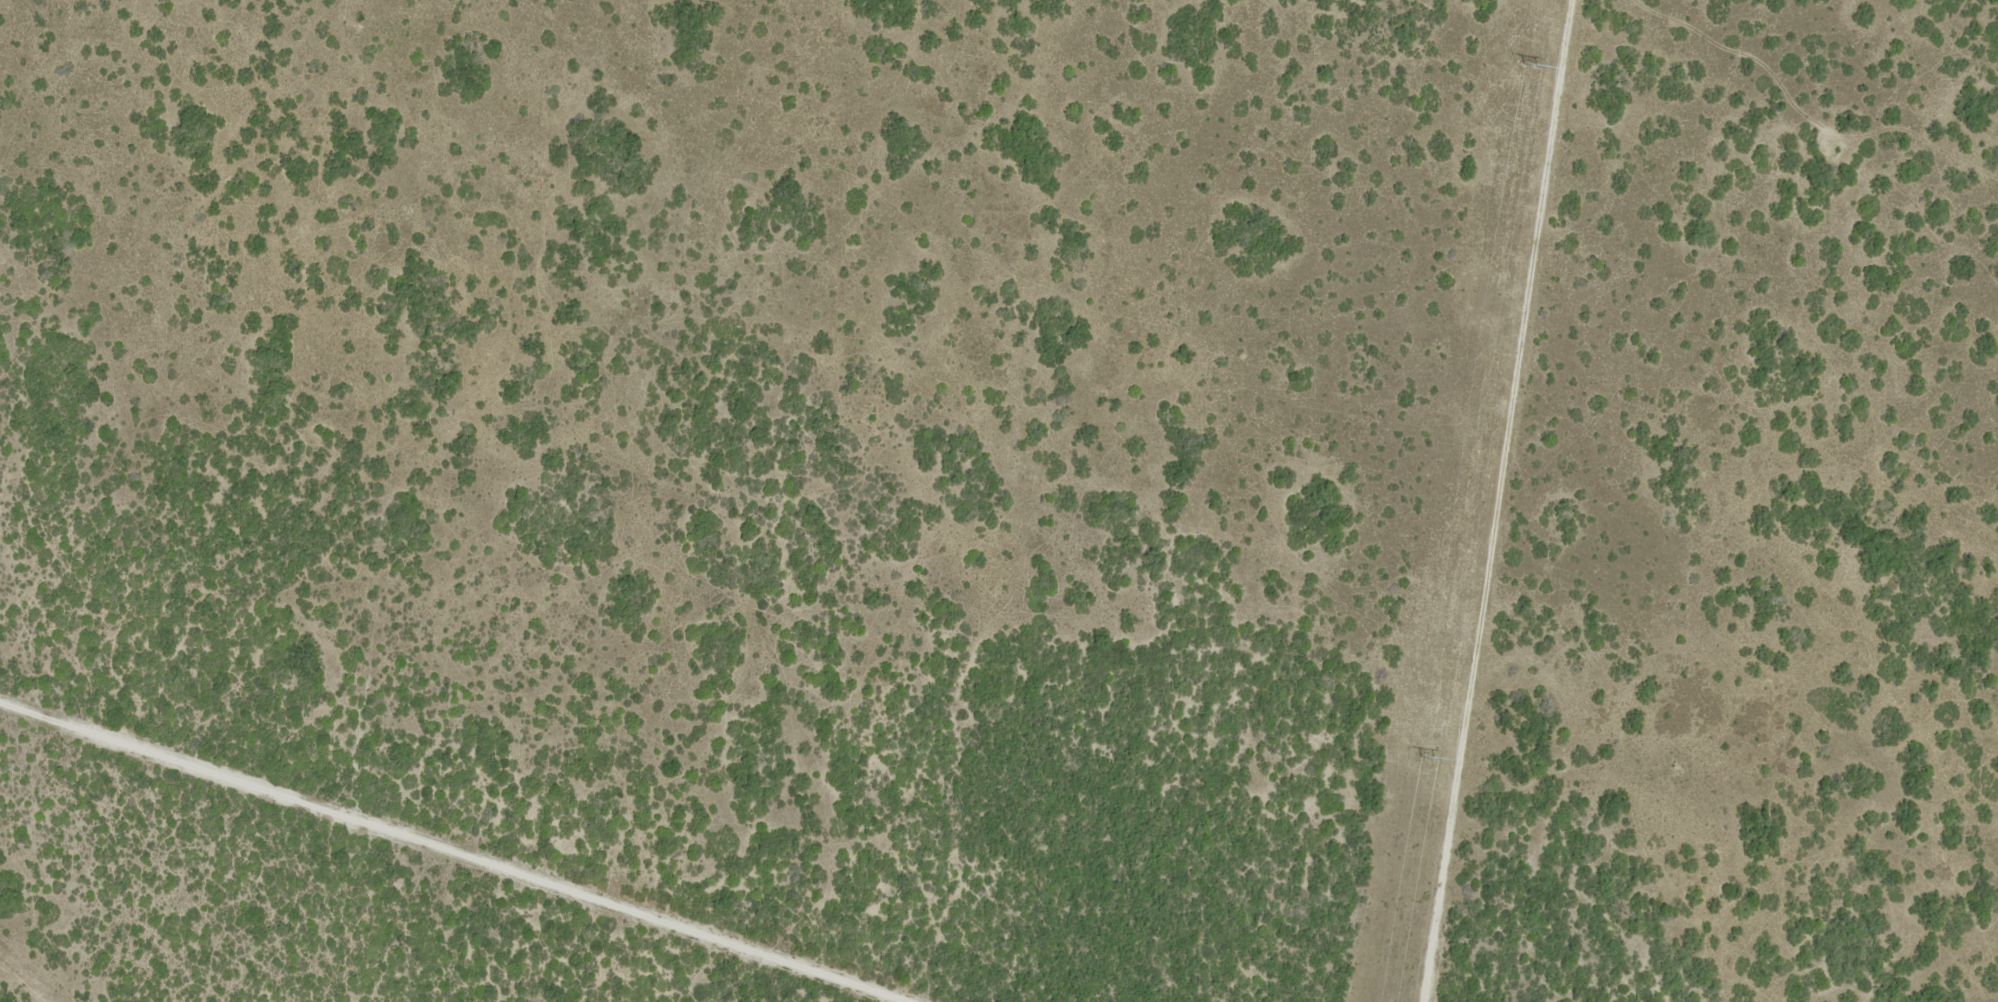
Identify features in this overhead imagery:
power tower: (1528, 65)
power tower: (1425, 758)
road: (478, 843)

